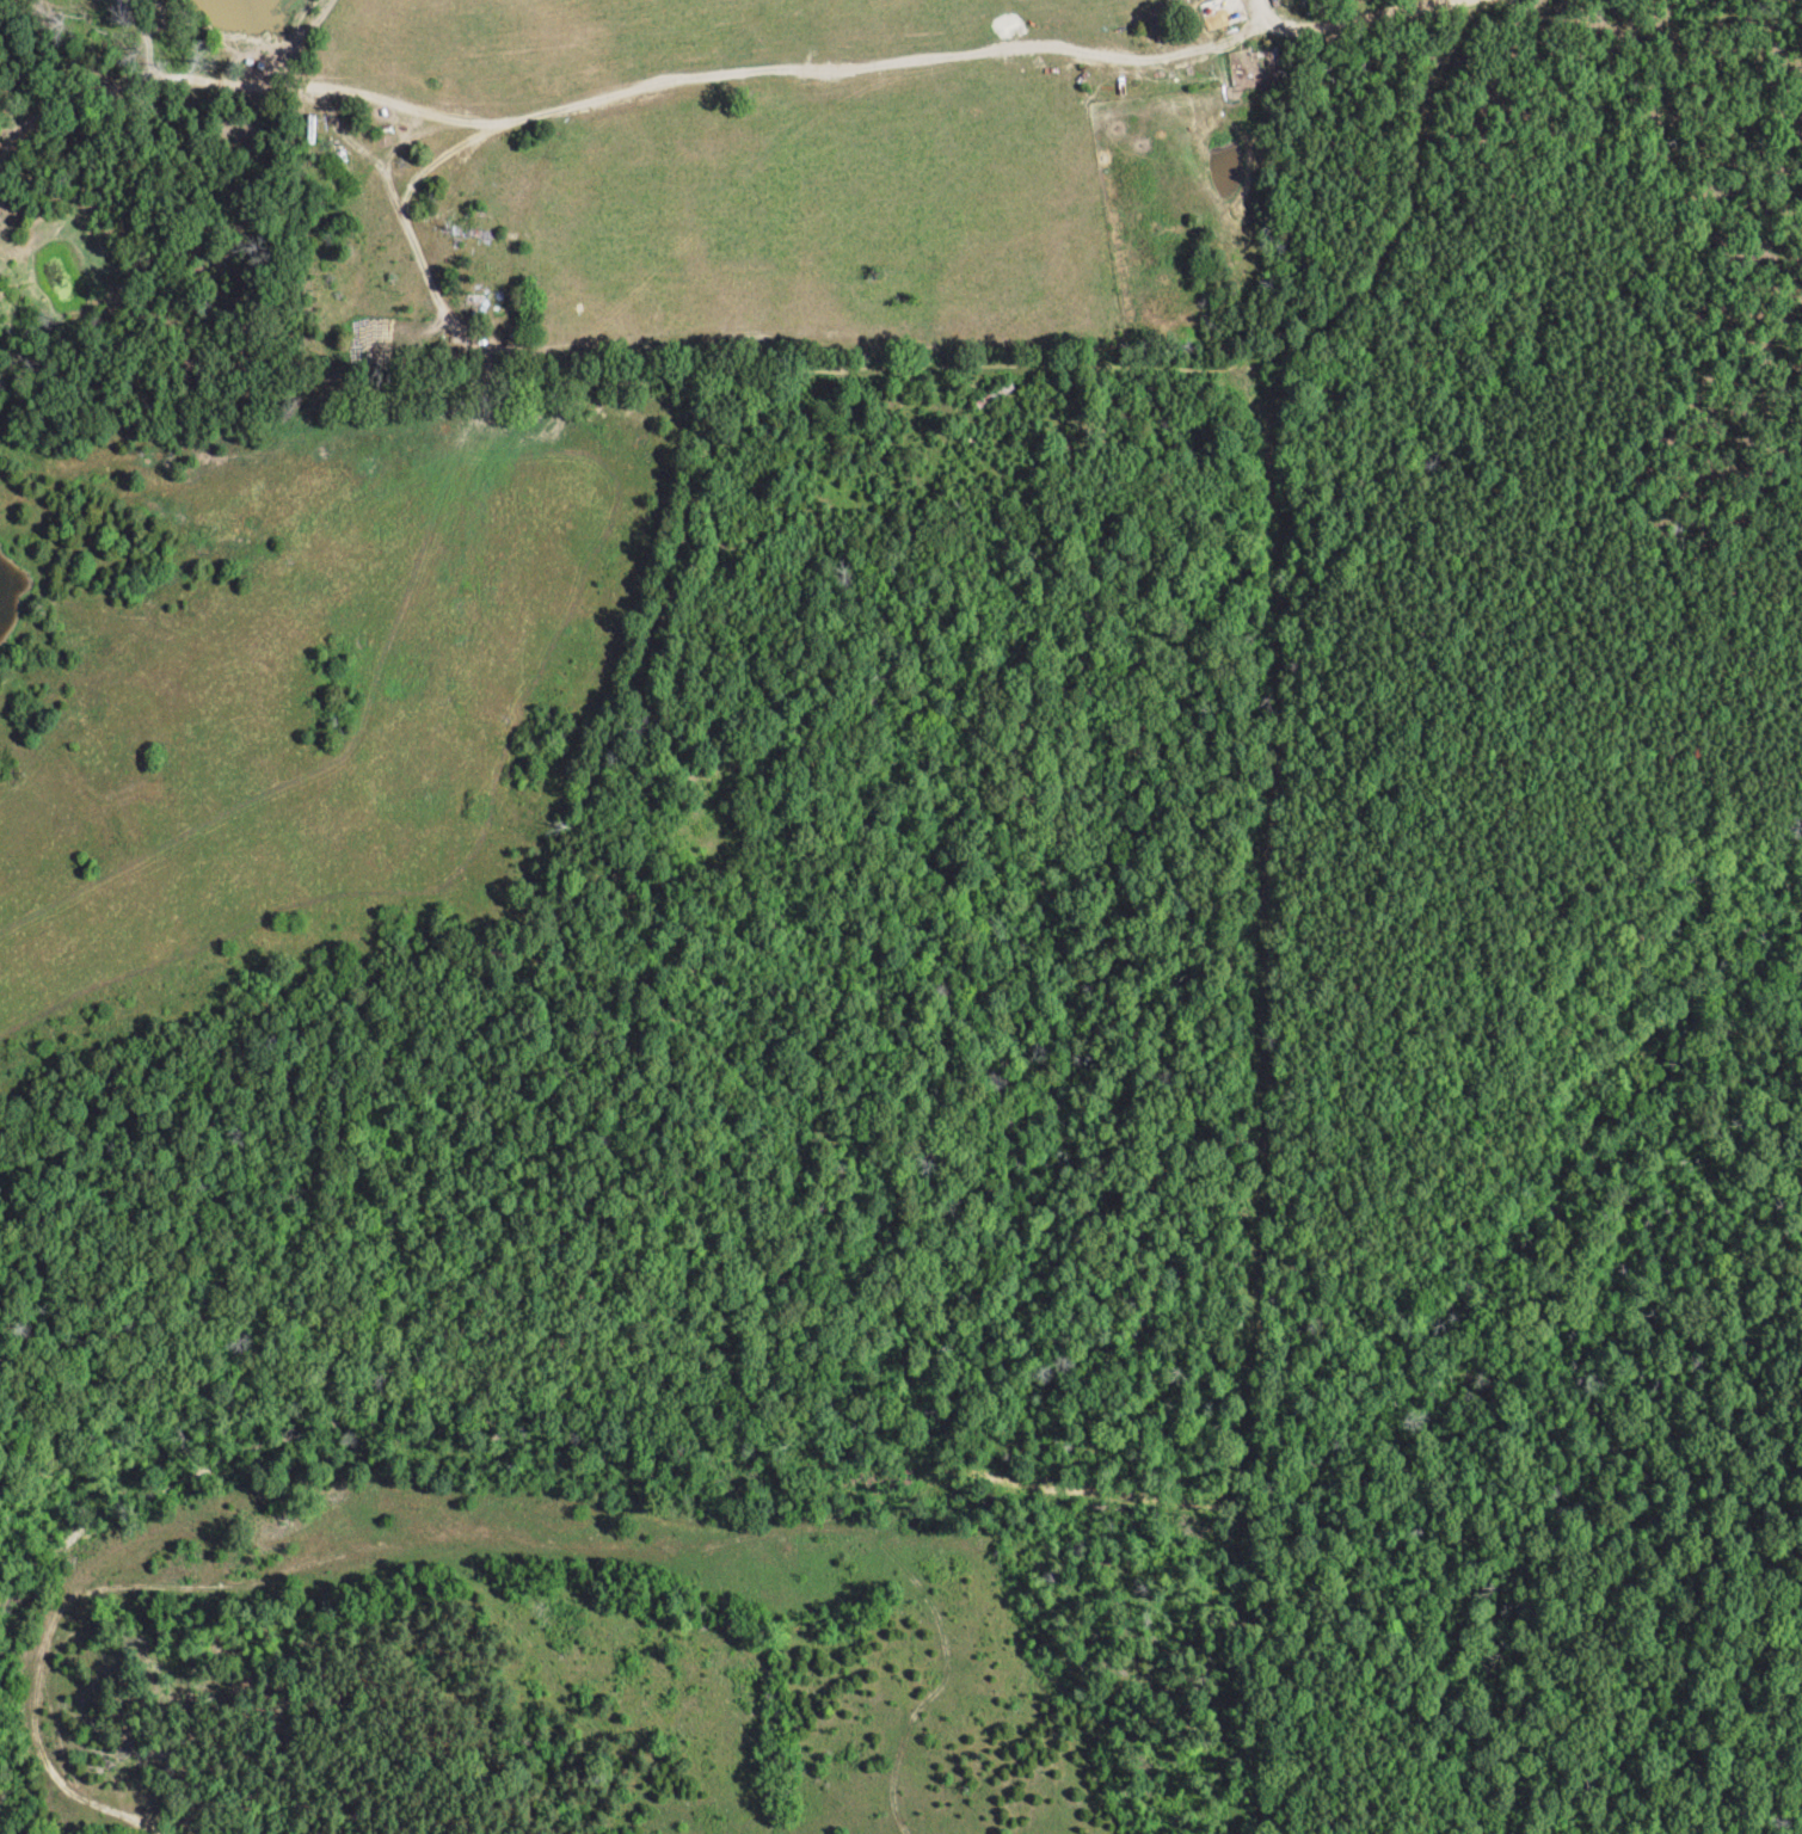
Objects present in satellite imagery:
road: (886, 106)
road: (1386, 186)
road: (310, 387)

